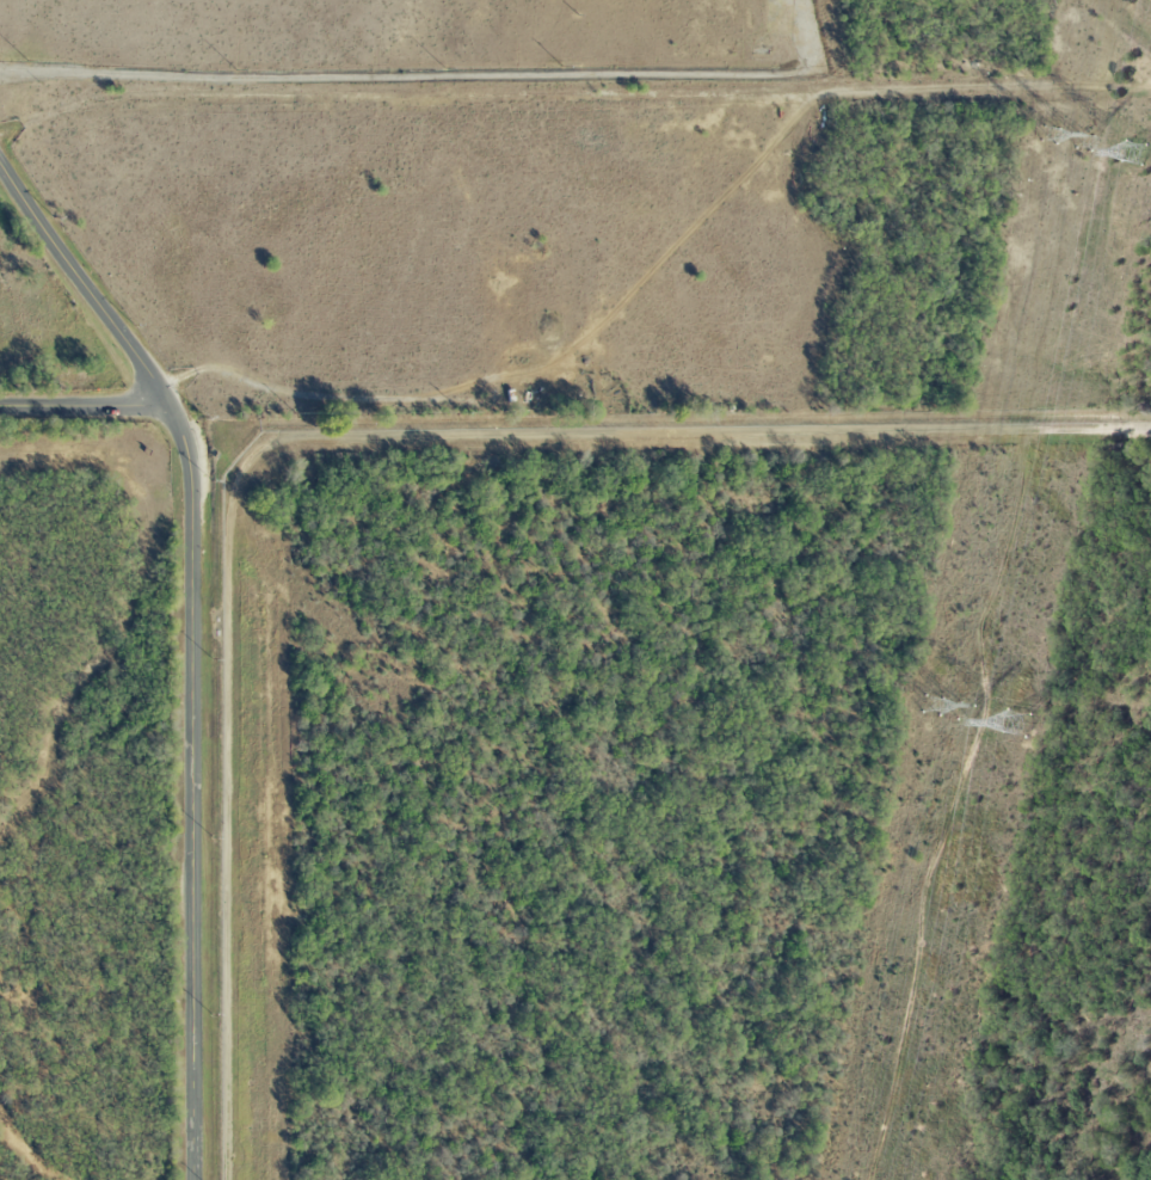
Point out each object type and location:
road: (393, 76)
power tower: (1050, 135)
power tower: (1084, 143)
power tower: (1135, 154)
road: (84, 408)
road: (333, 436)
road: (193, 643)
power tower: (933, 706)
power tower: (967, 713)
power tower: (1018, 724)
road: (948, 803)

